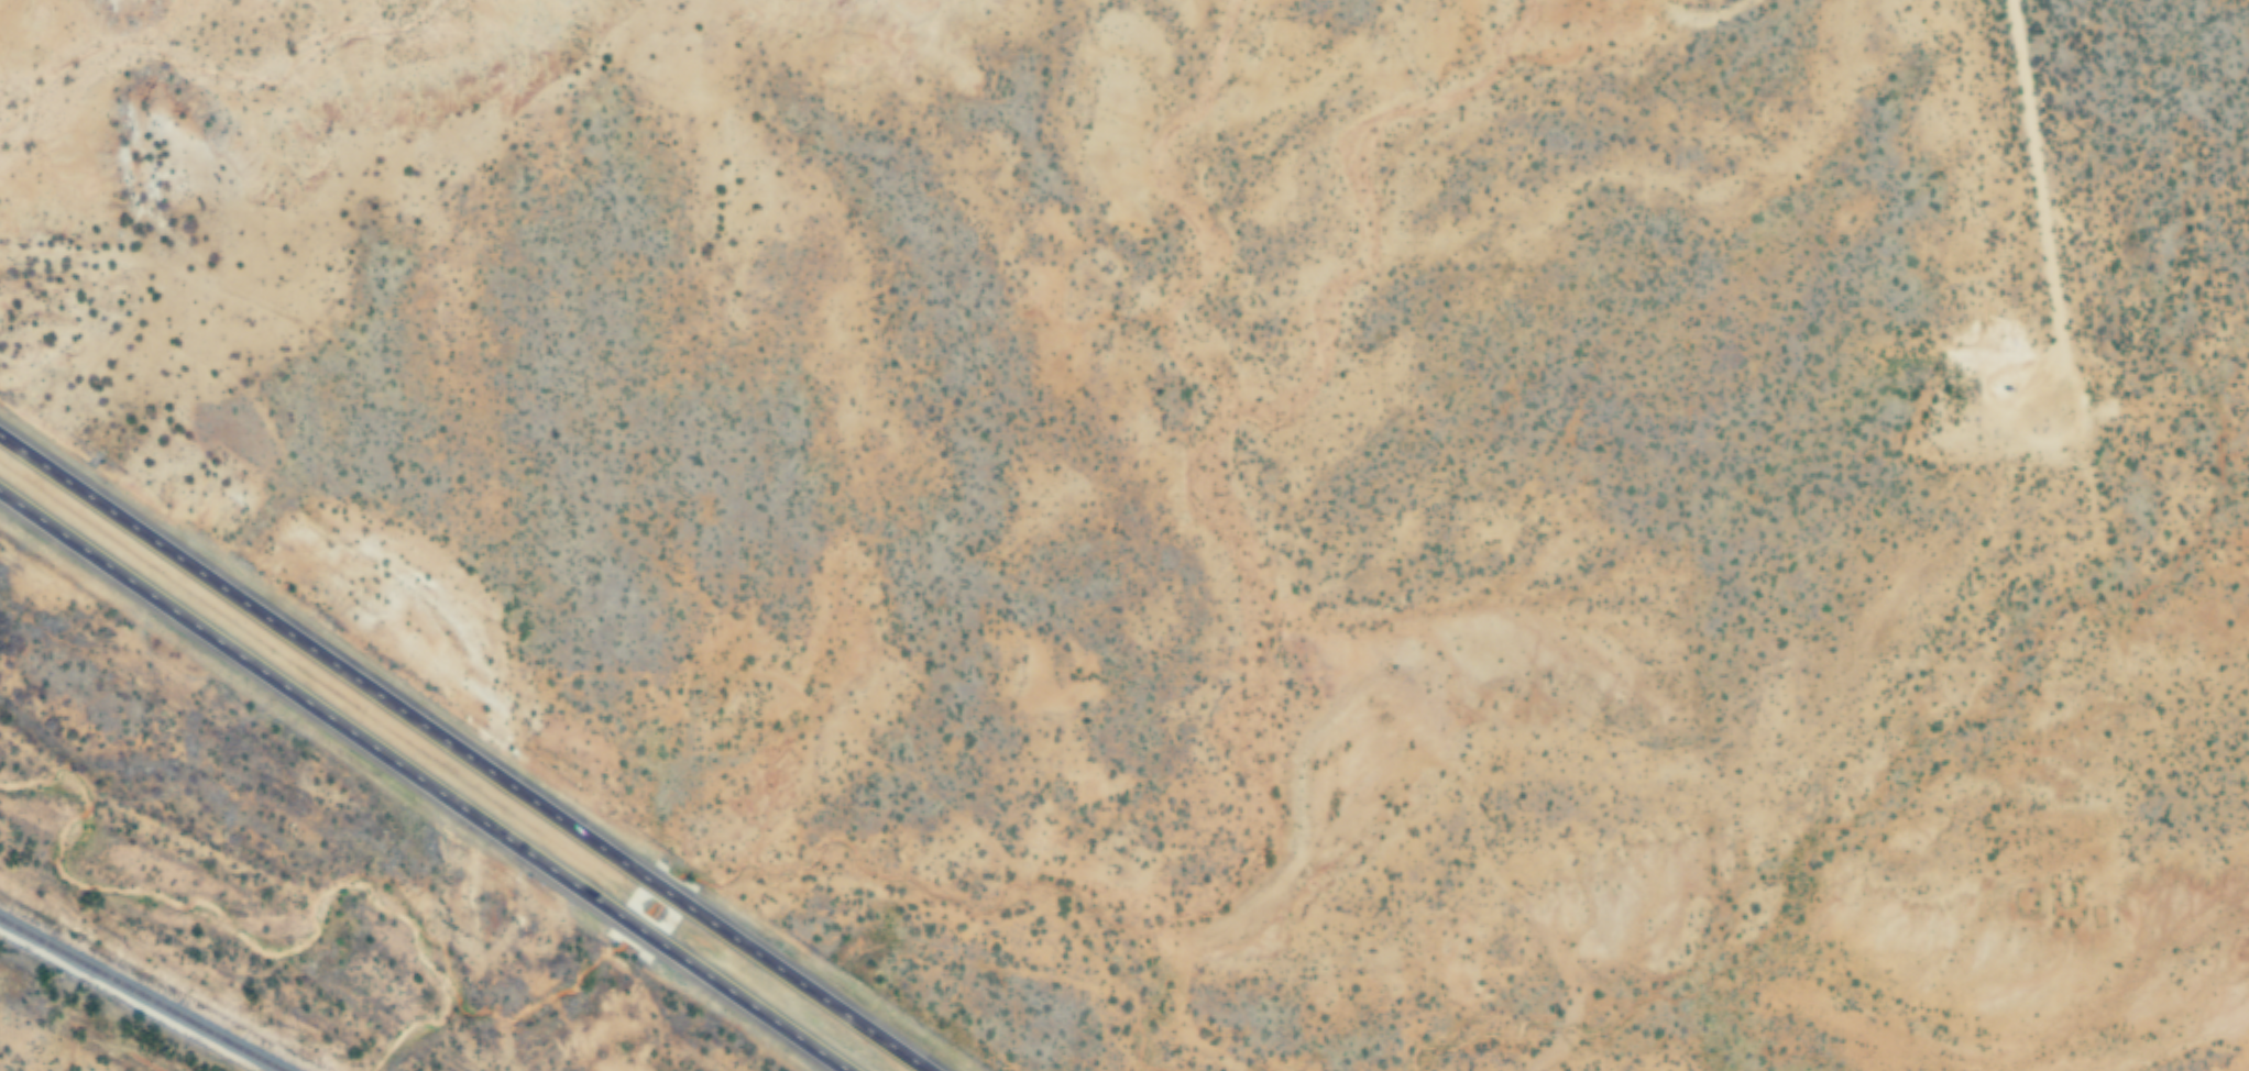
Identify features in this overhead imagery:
road: (460, 755)
road: (426, 780)
railway: (139, 996)

